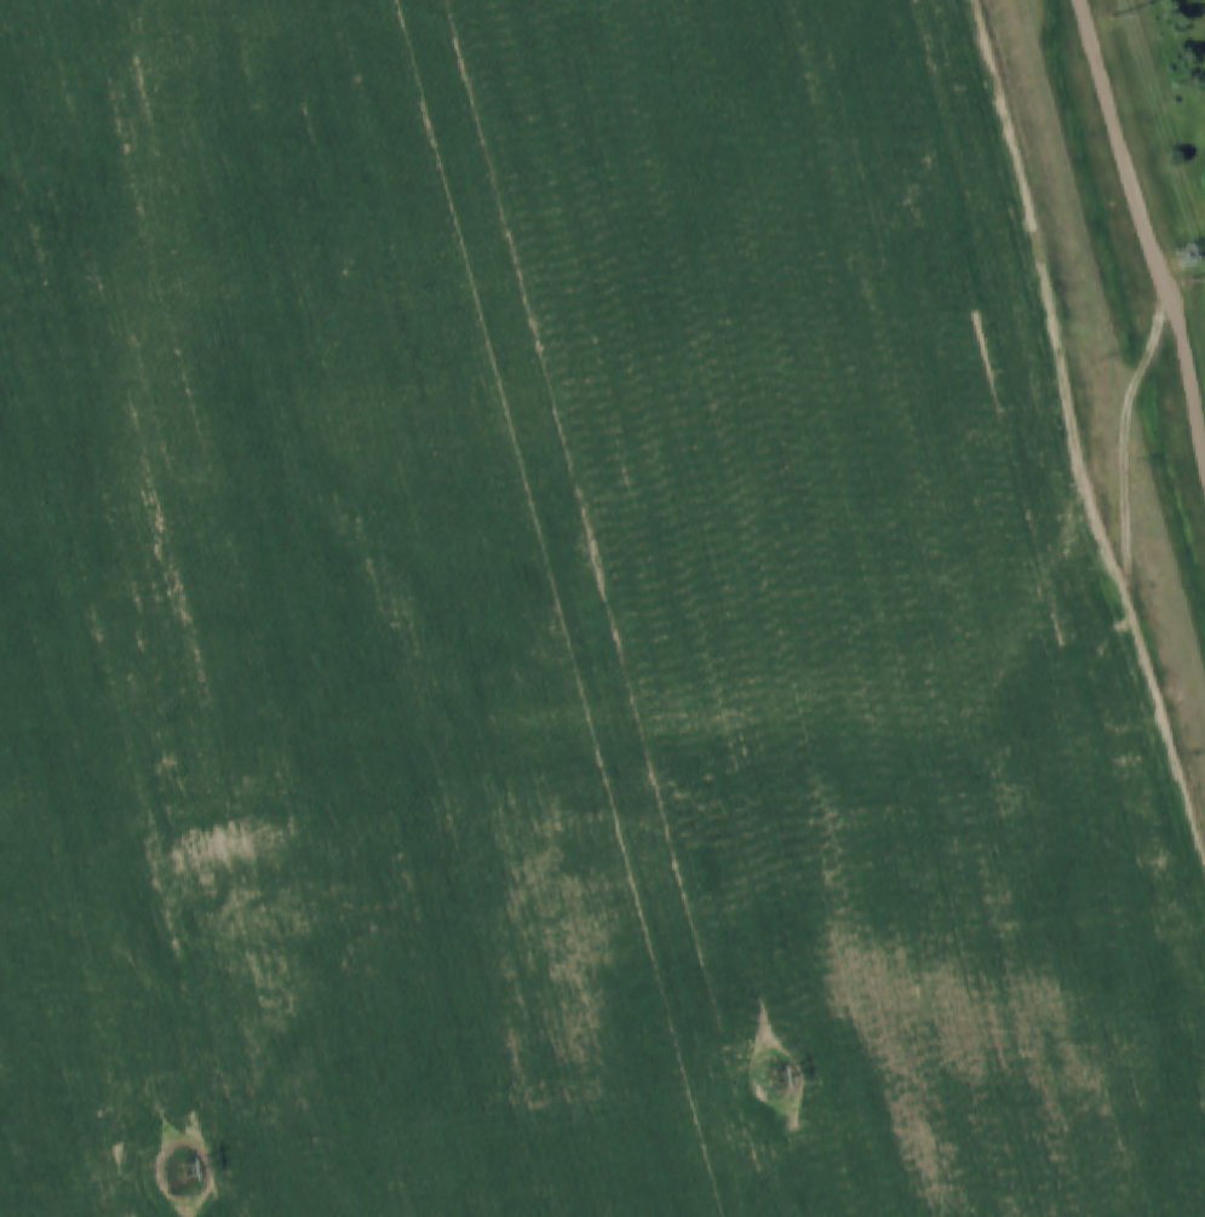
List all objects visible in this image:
park: (1167, 143)
road: (1148, 224)
road: (1111, 346)
road: (1079, 429)
road: (1115, 447)
power tower: (779, 1077)
power tower: (187, 1172)

